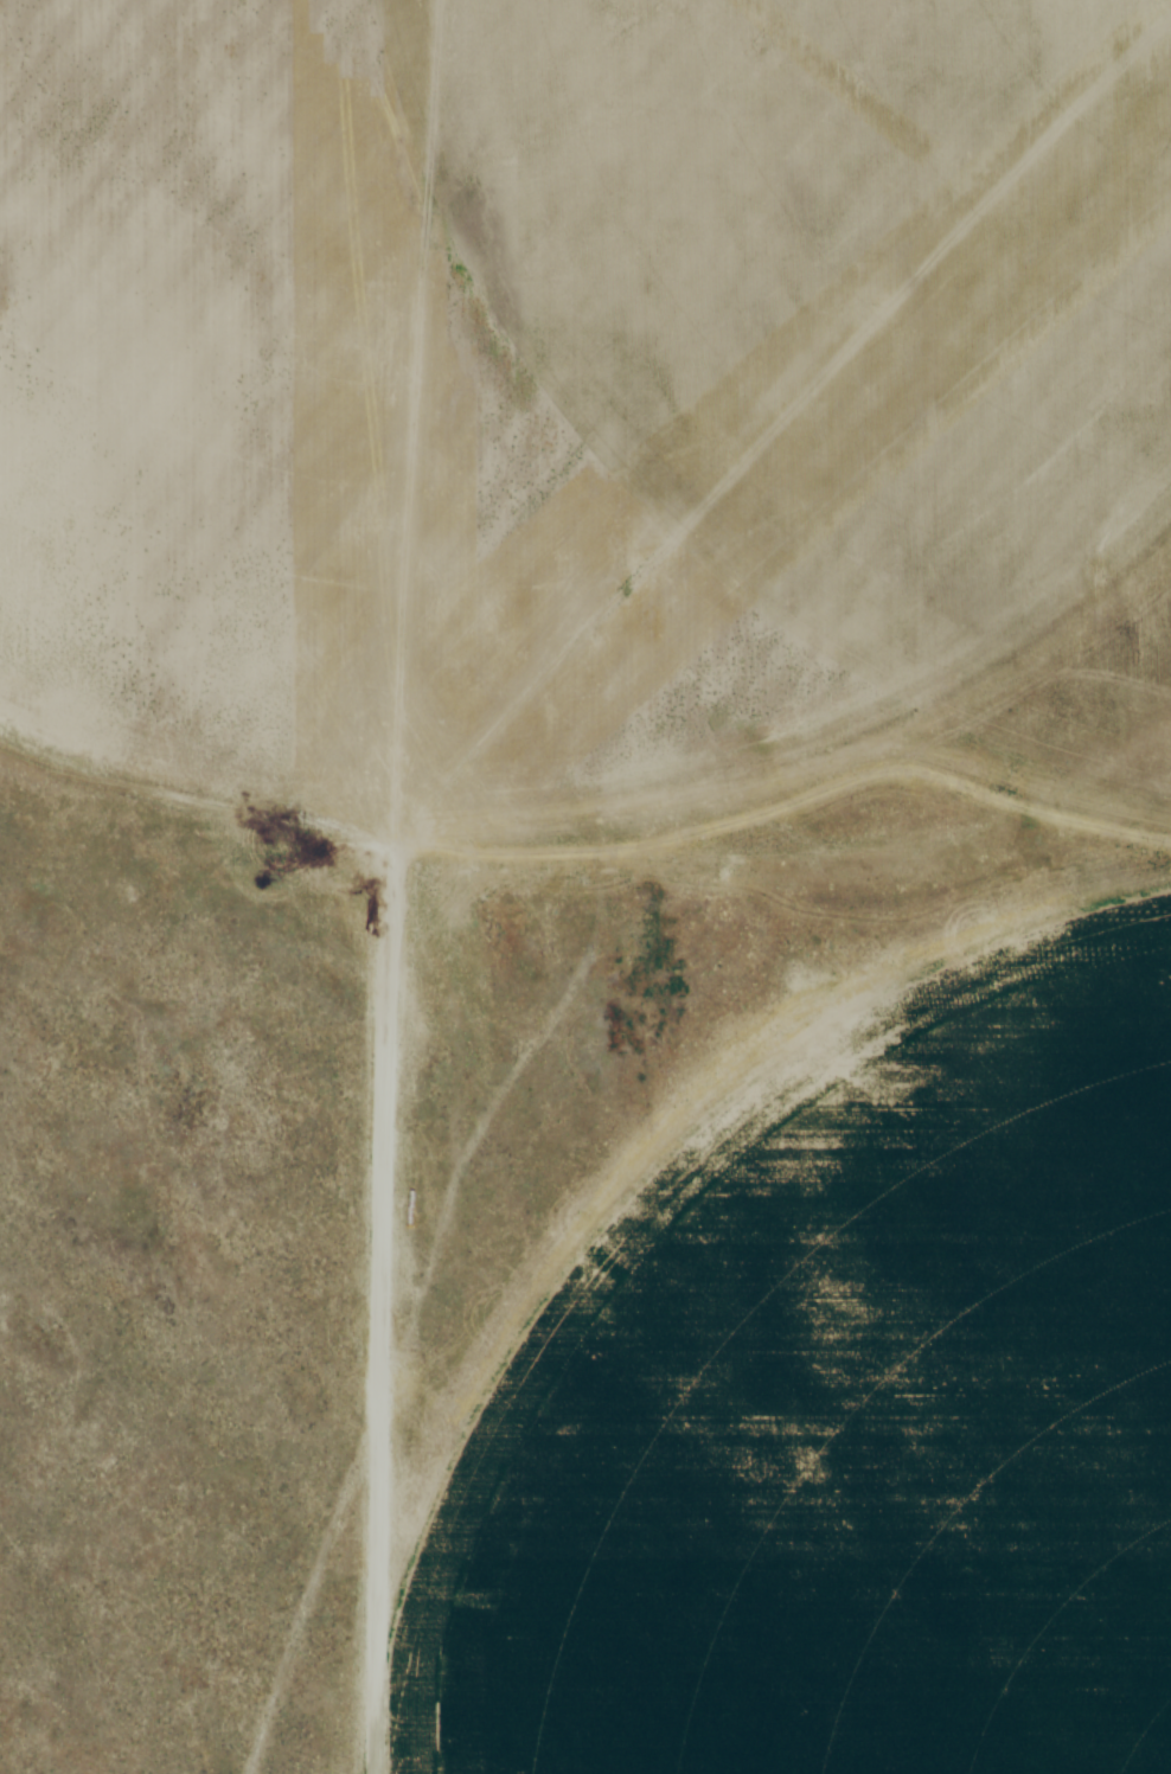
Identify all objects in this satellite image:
crop: (562, 374)
crop: (846, 1415)

